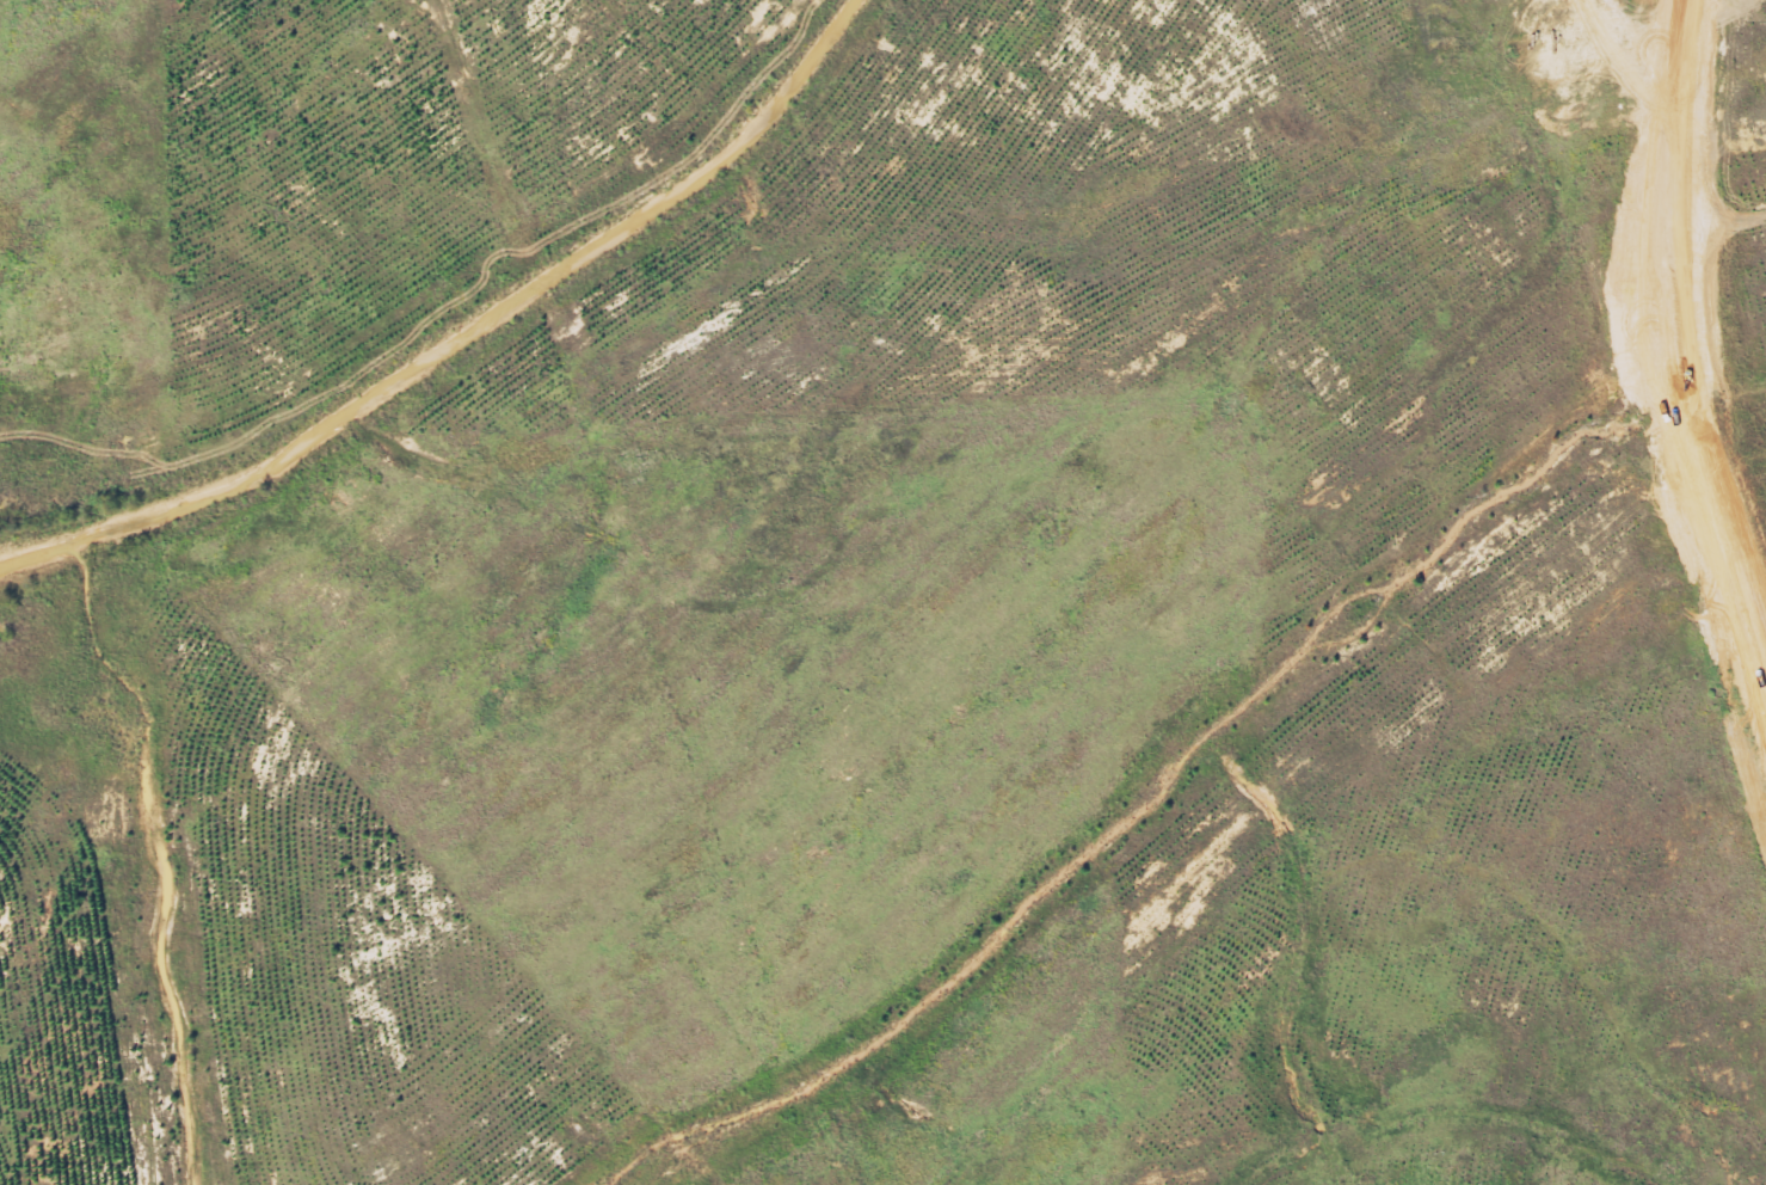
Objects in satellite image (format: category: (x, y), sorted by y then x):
road: (1663, 346)

